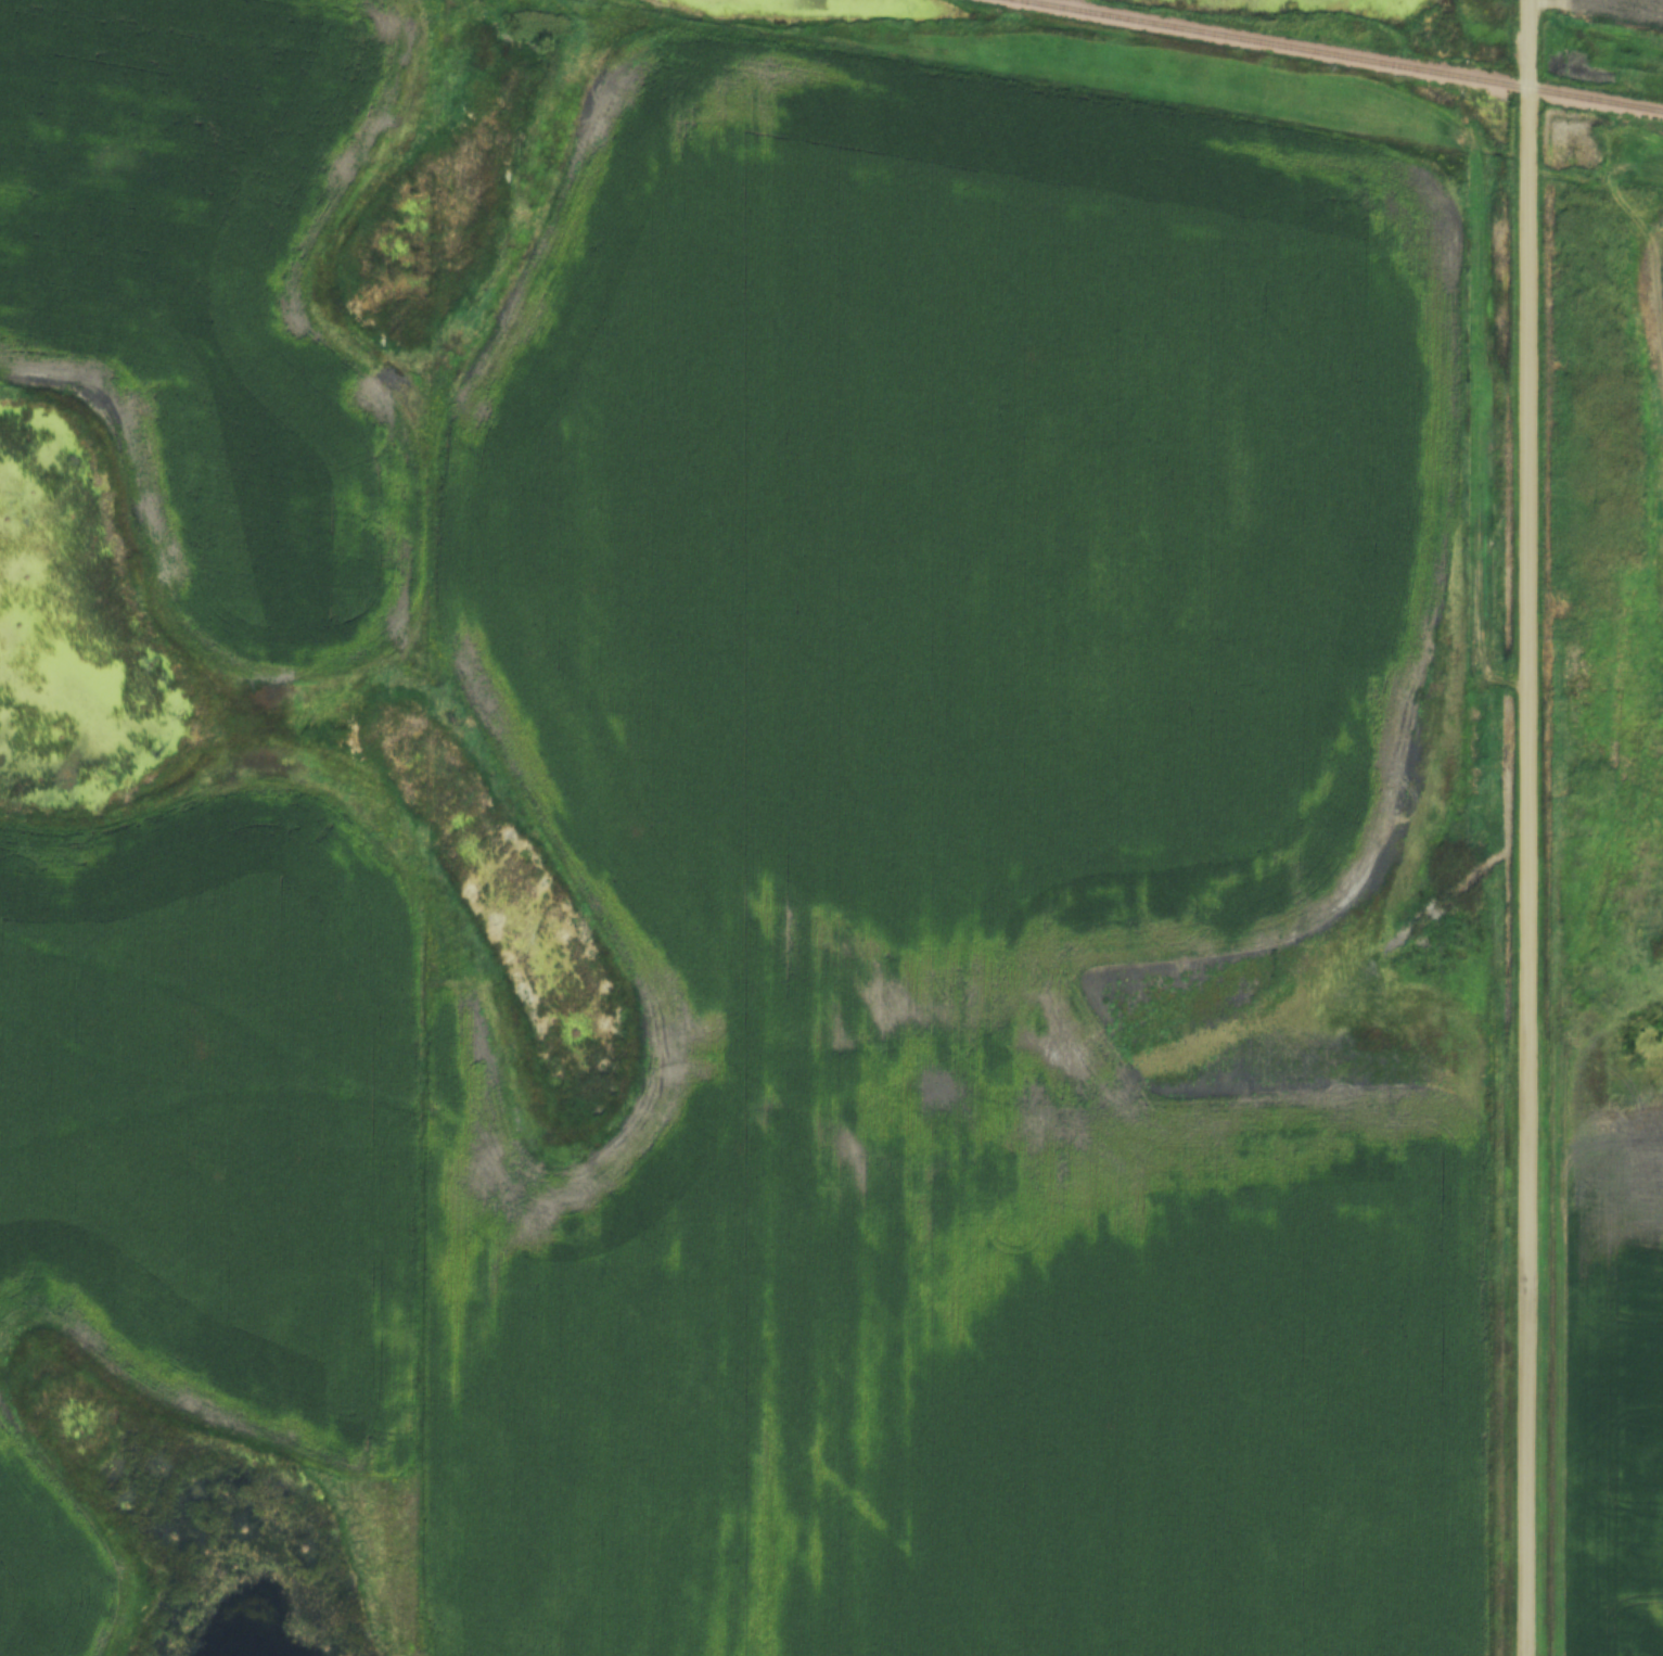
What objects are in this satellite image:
railway: (1341, 55)
road: (1524, 828)

